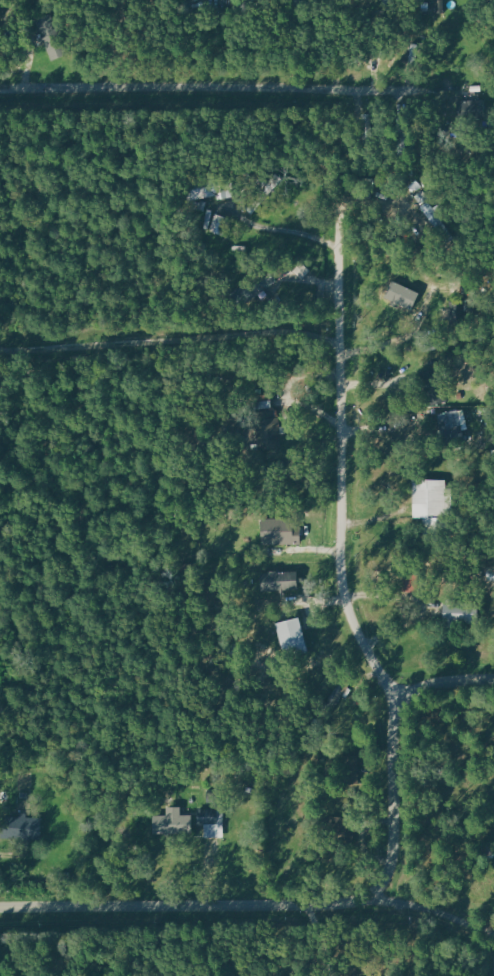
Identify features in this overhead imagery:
building: (439, 6)
building: (50, 36)
road: (220, 87)
building: (206, 192)
road: (363, 200)
building: (214, 222)
road: (291, 231)
building: (254, 287)
road: (171, 340)
building: (262, 396)
building: (464, 418)
building: (450, 421)
building: (266, 426)
road: (341, 465)
building: (429, 498)
building: (280, 532)
building: (276, 581)
building: (412, 586)
building: (460, 614)
building: (290, 637)
road: (445, 682)
building: (172, 822)
building: (212, 822)
building: (23, 824)
road: (292, 906)
road: (430, 921)
road: (318, 941)

